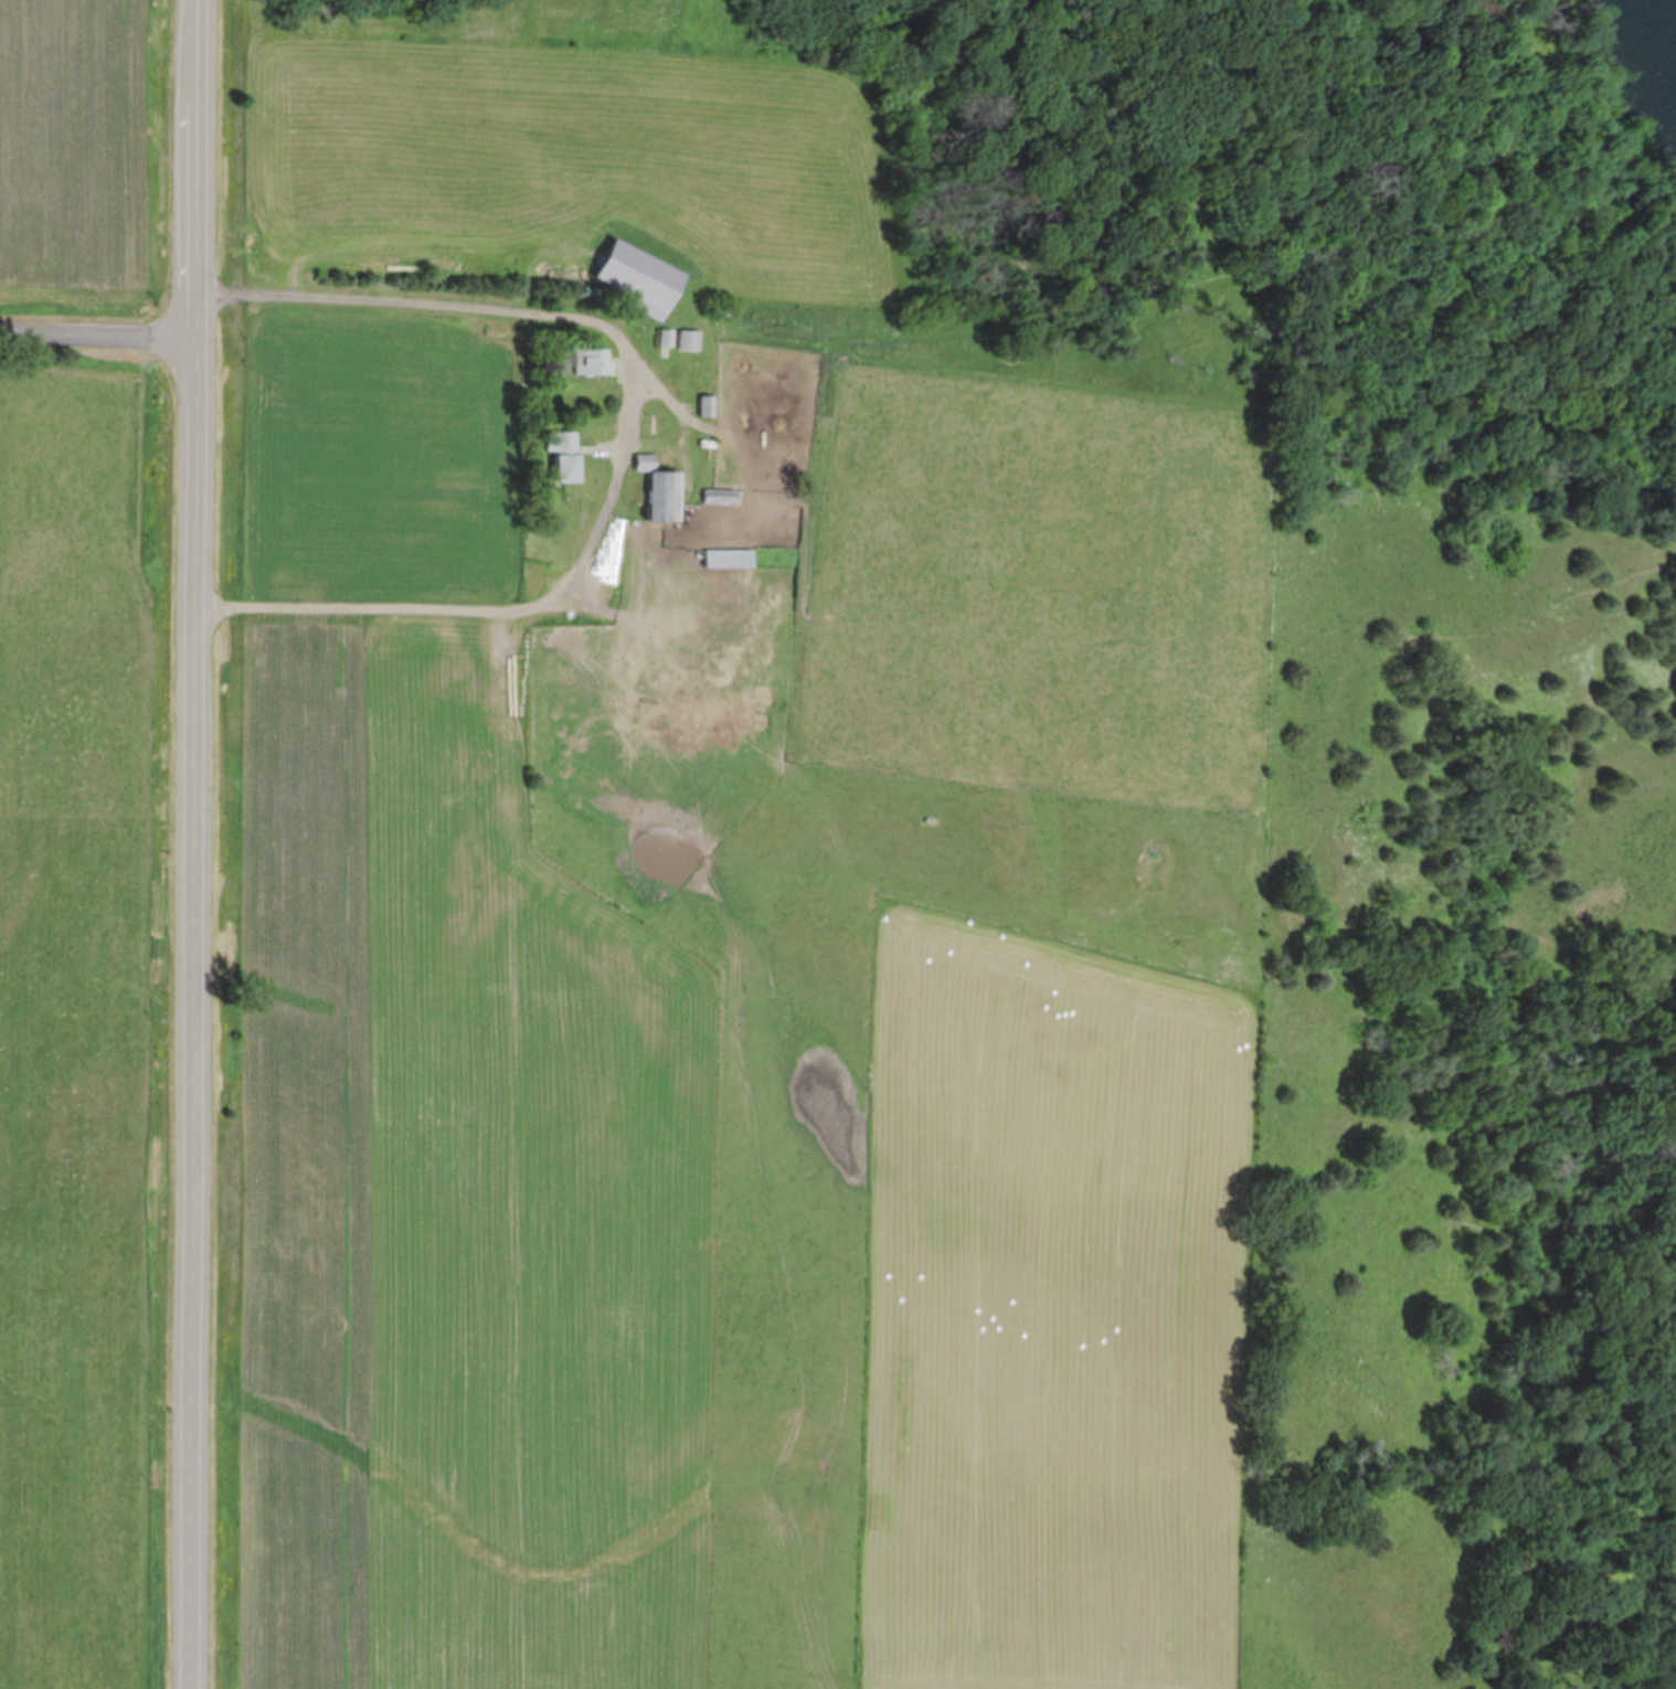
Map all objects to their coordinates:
road: (97, 337)
building: (665, 338)
building: (689, 340)
building: (591, 363)
building: (704, 406)
road: (624, 440)
building: (657, 489)
building: (720, 497)
building: (730, 559)
road: (197, 843)

